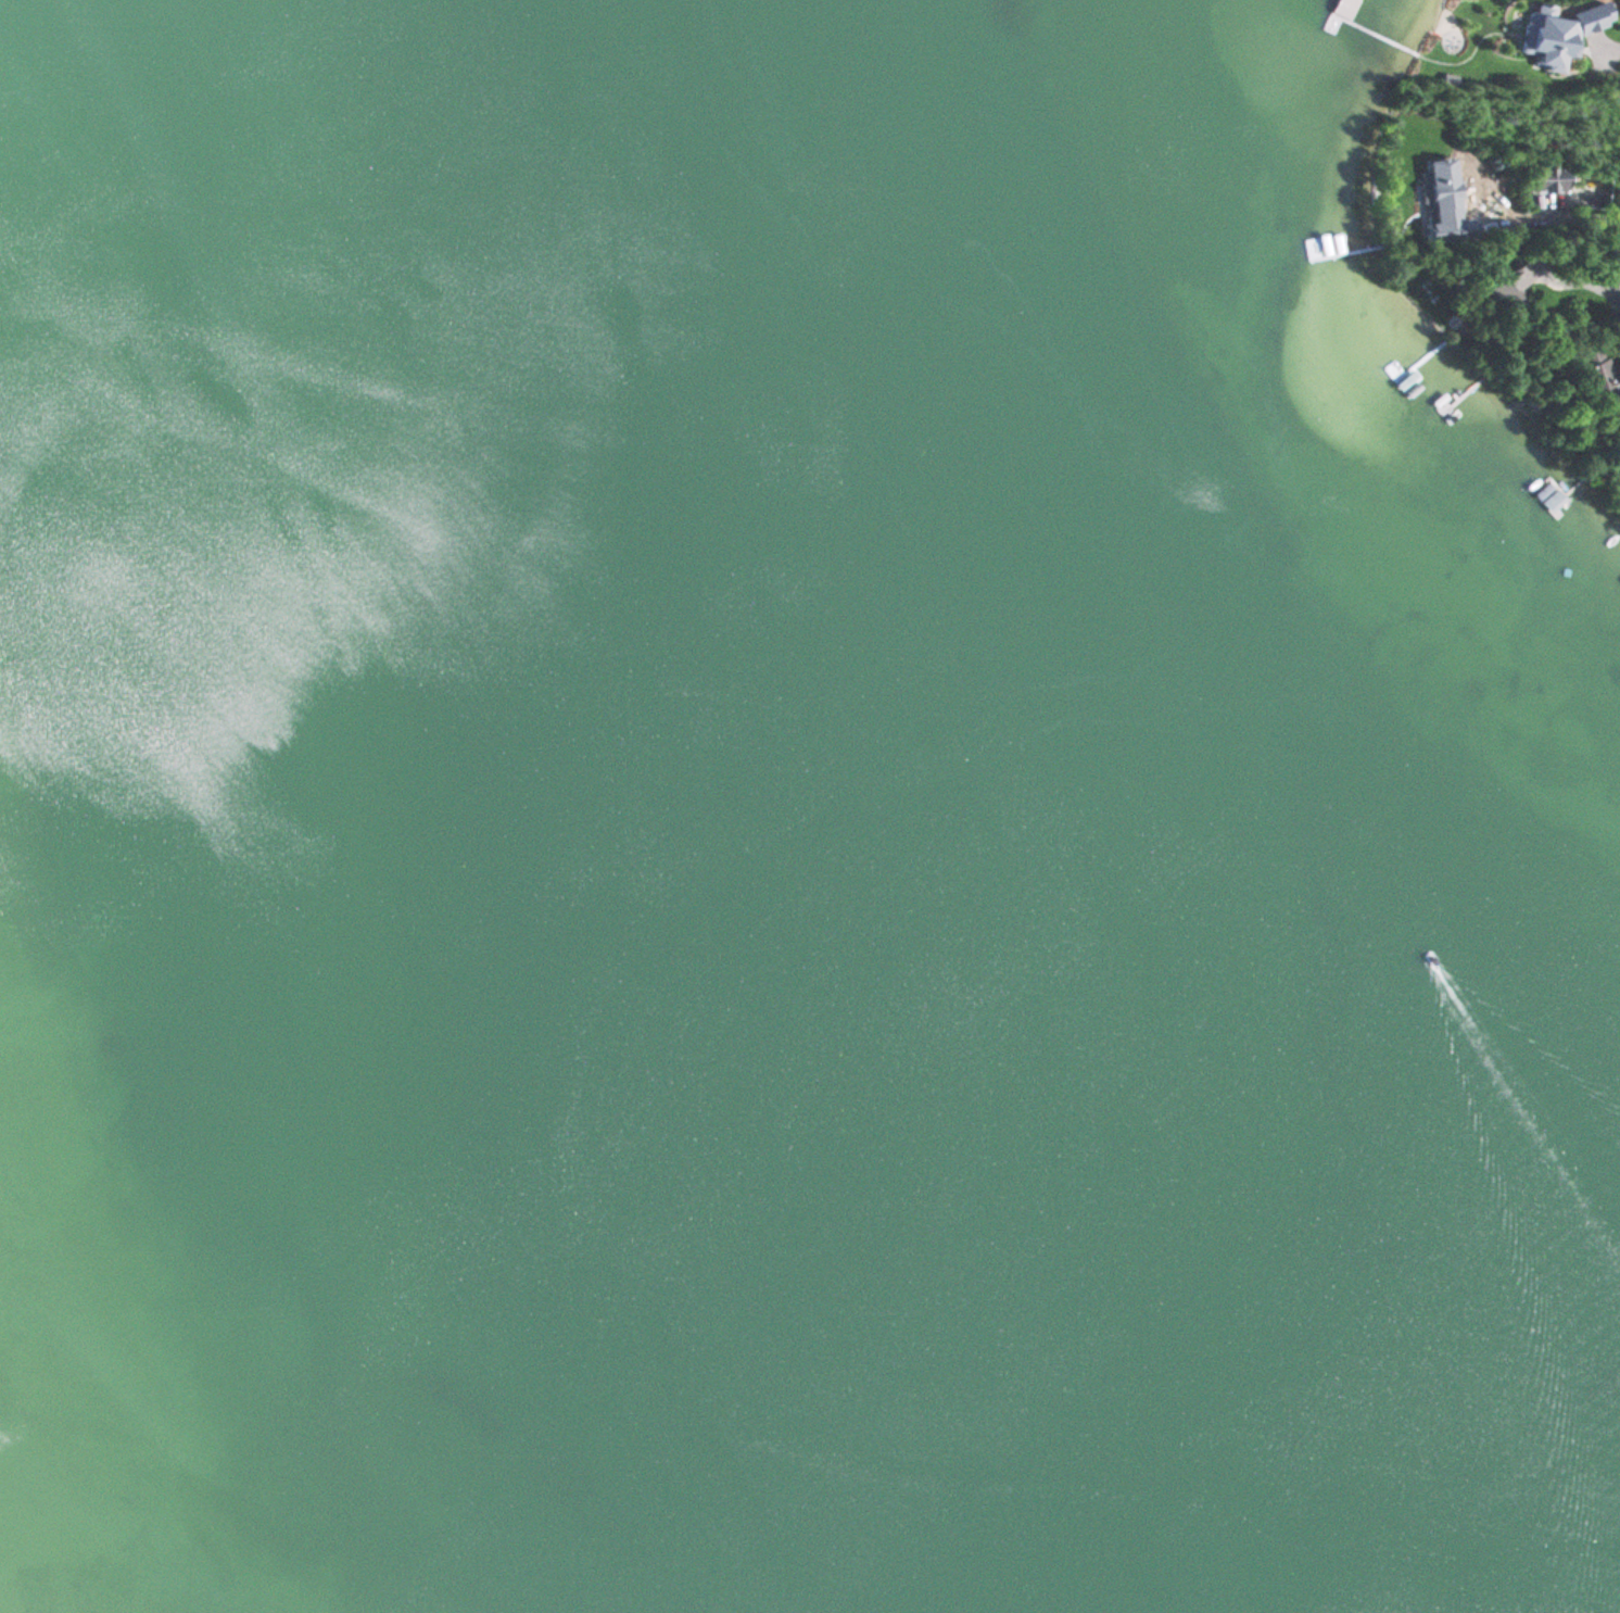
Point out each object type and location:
building: (1548, 177)
building: (1443, 193)
building: (1317, 245)
building: (1616, 277)
building: (1502, 294)
building: (1598, 371)
building: (1551, 501)

